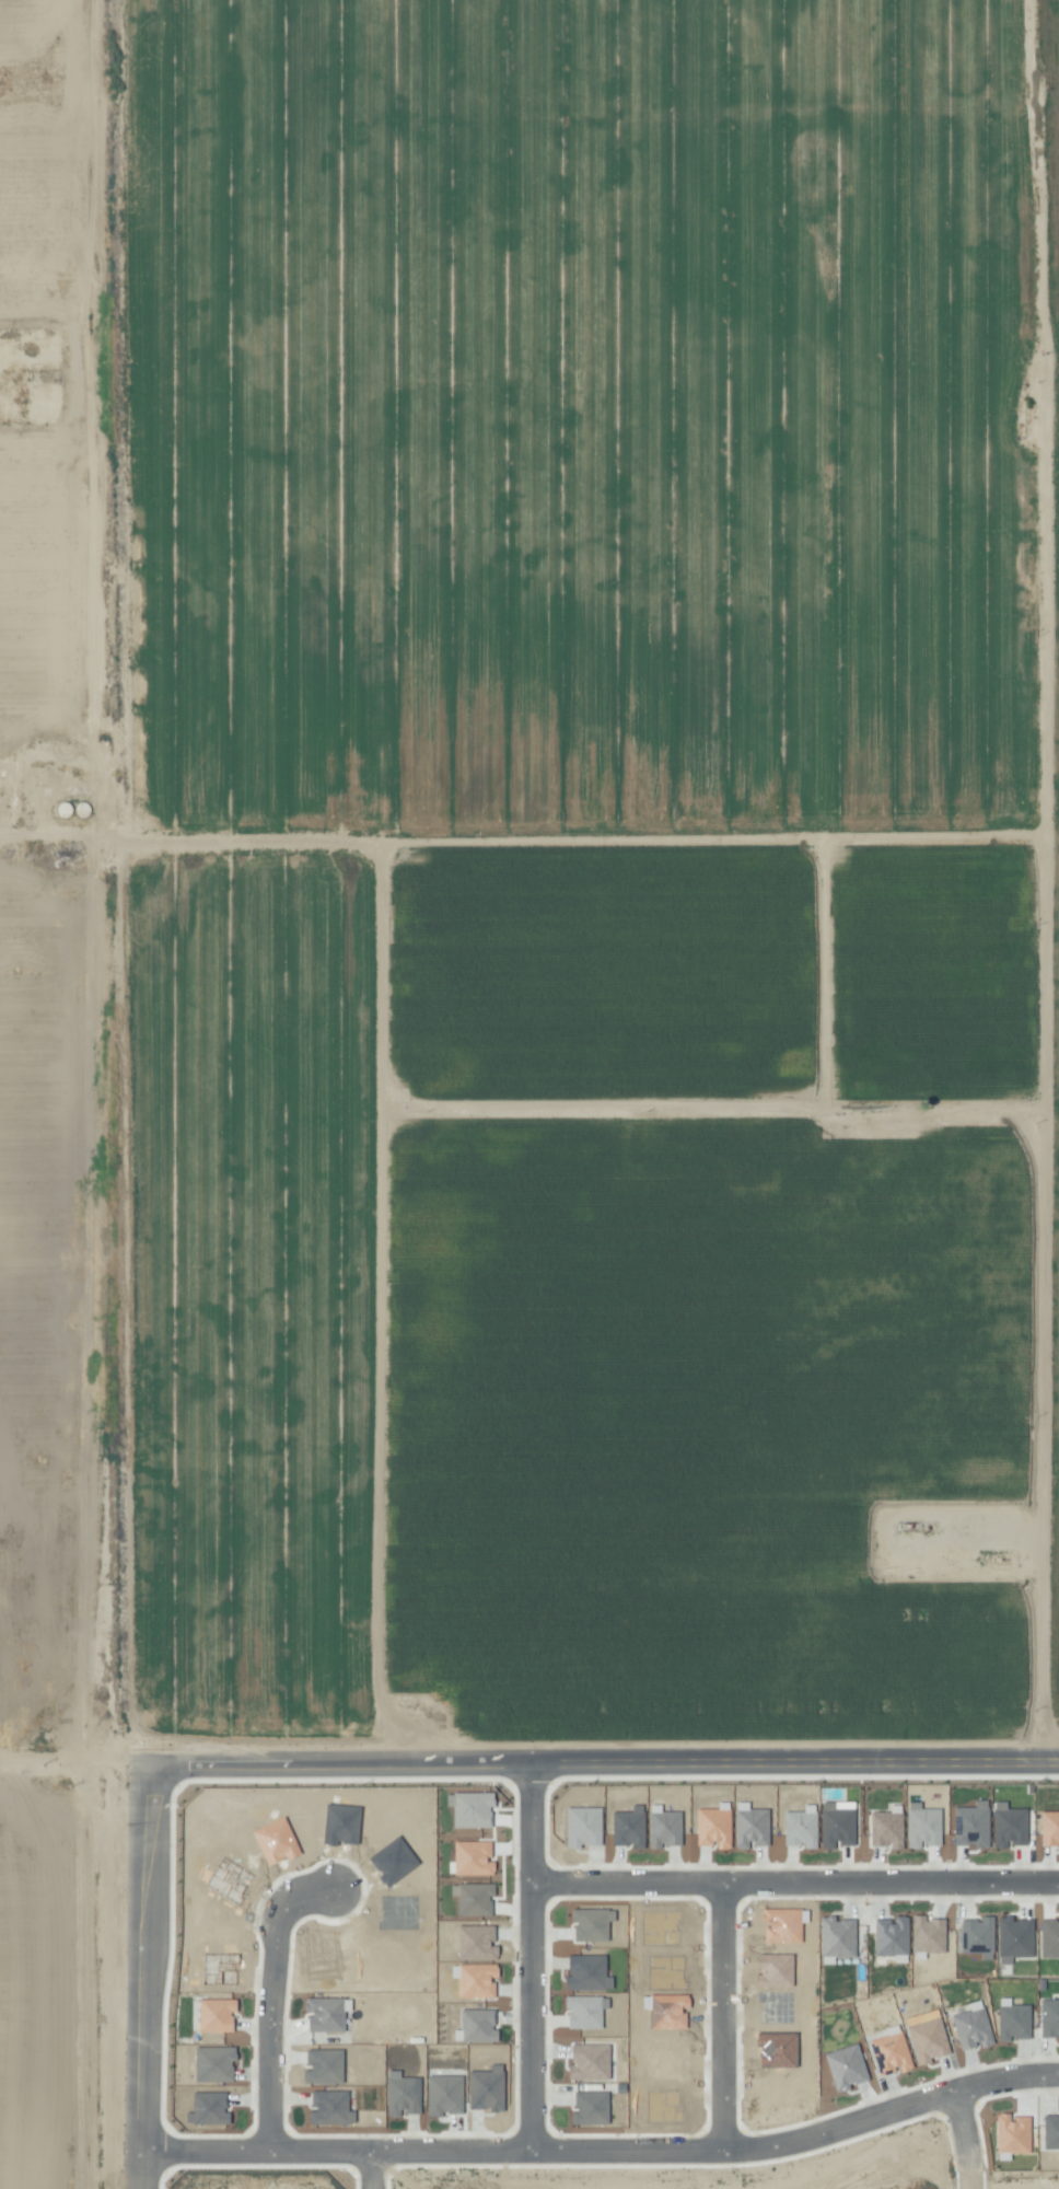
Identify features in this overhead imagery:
road: (593, 1752)
building: (469, 1809)
building: (970, 1825)
building: (749, 1826)
building: (836, 1826)
building: (922, 1826)
building: (1008, 1826)
building: (800, 1827)
building: (886, 1828)
building: (1049, 1828)
building: (472, 1857)
road: (793, 1875)
building: (473, 1898)
building: (891, 1936)
building: (927, 1936)
building: (977, 1937)
building: (1013, 1938)
building: (1049, 1938)
building: (836, 1939)
road: (528, 1953)
road: (128, 1971)
road: (272, 2001)
road: (722, 2013)
building: (324, 2014)
building: (216, 2015)
building: (1049, 2018)
building: (1012, 2020)
building: (971, 2027)
building: (928, 2040)
building: (891, 2052)
building: (589, 2062)
building: (213, 2064)
building: (845, 2068)
building: (443, 2095)
building: (590, 2108)
building: (1050, 2132)
building: (1012, 2133)
road: (966, 2139)
road: (600, 2152)
road: (370, 2170)

